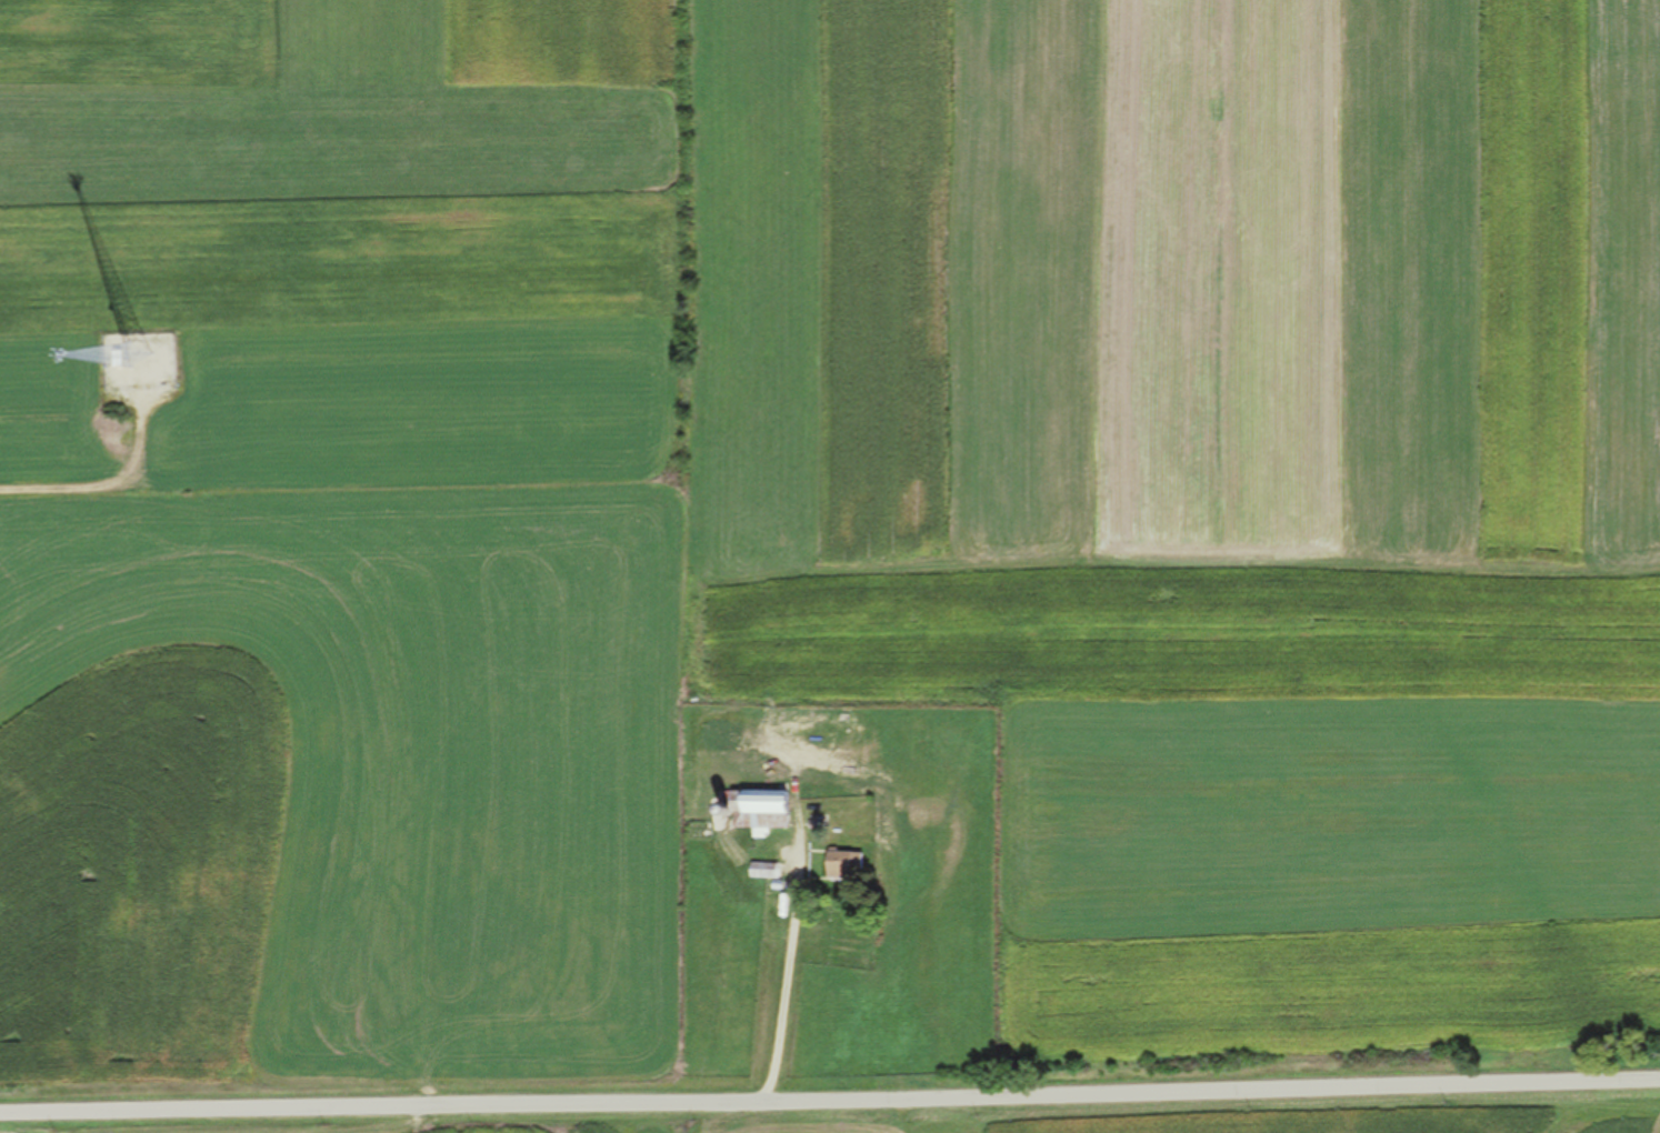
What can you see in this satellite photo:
building: (754, 810)
building: (840, 865)
road: (830, 1100)

